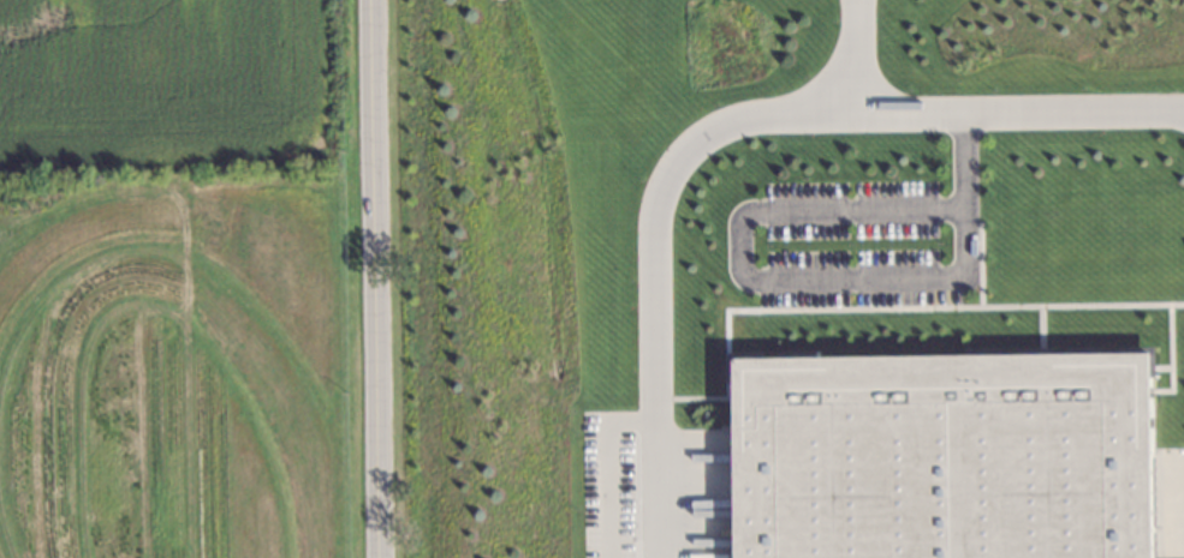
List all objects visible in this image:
road: (850, 55)
road: (722, 127)
road: (791, 277)
road: (369, 278)
building: (942, 457)

